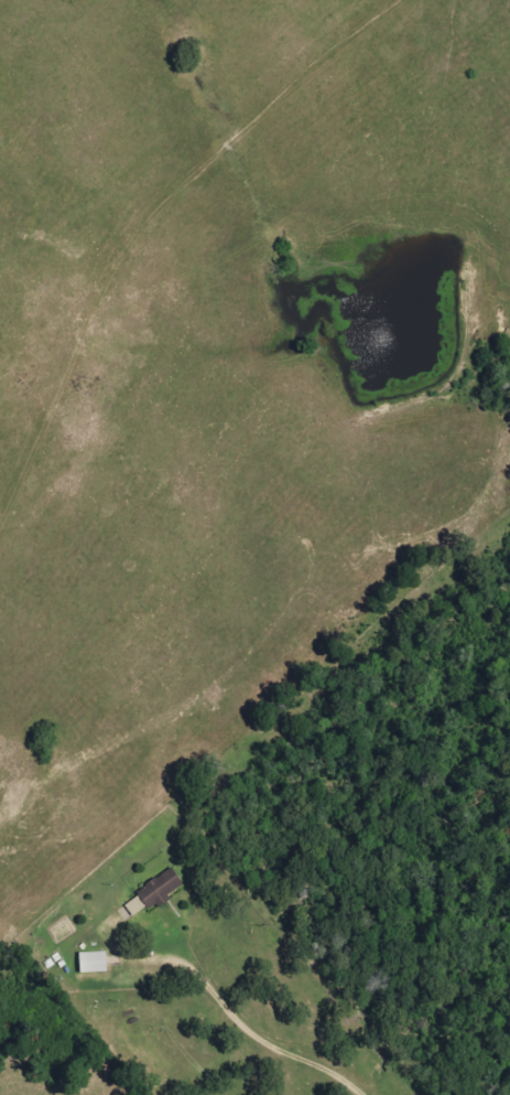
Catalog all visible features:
building: (160, 889)
building: (91, 963)
road: (238, 1018)

